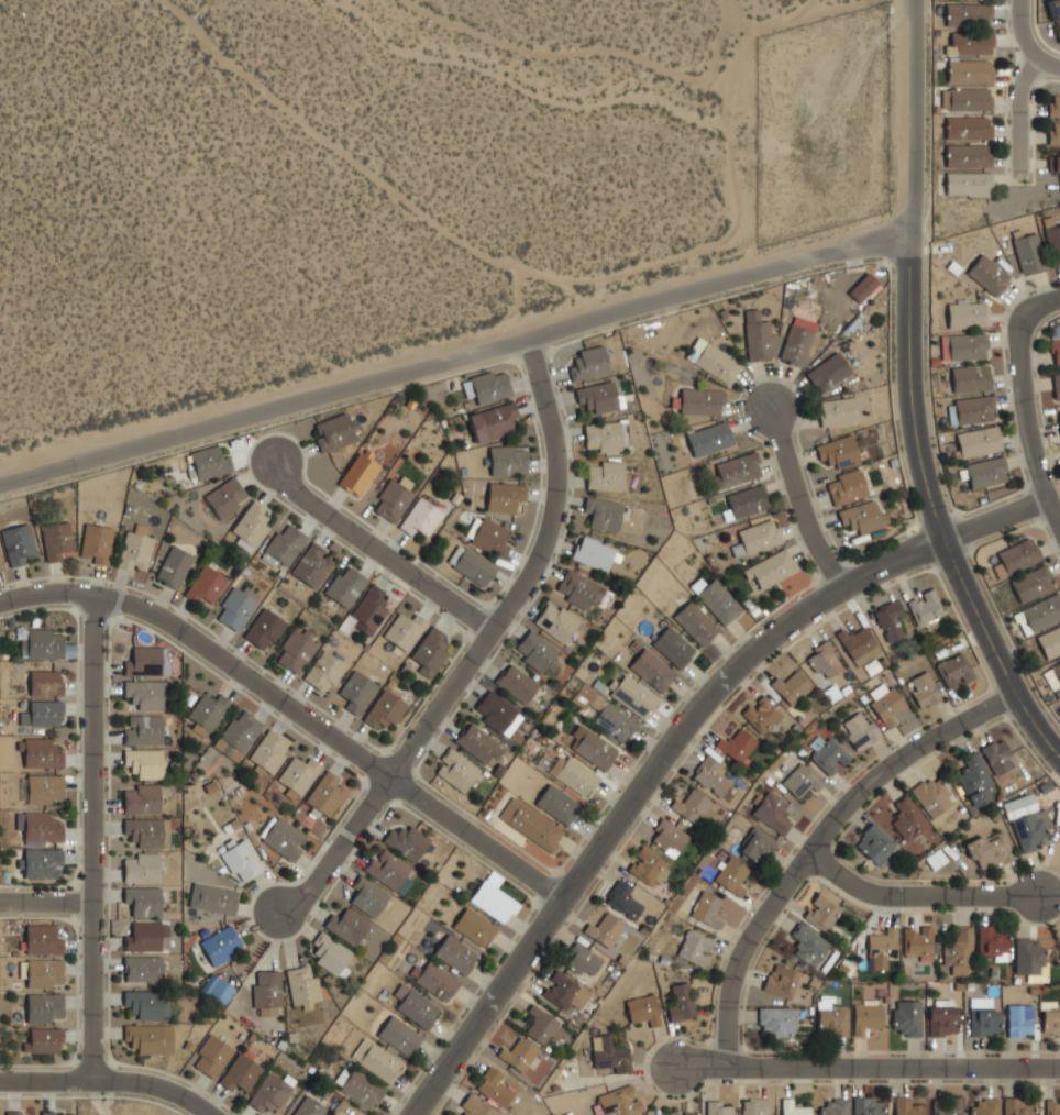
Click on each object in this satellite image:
building: (1056, 12)
building: (968, 15)
road: (1029, 33)
building: (970, 43)
road: (1051, 67)
building: (970, 73)
building: (970, 100)
building: (1053, 106)
road: (910, 115)
road: (1023, 118)
building: (968, 129)
building: (1053, 133)
building: (968, 156)
building: (1056, 159)
building: (968, 184)
building: (1053, 243)
building: (1029, 253)
building: (989, 274)
building: (864, 288)
road: (1038, 301)
building: (967, 313)
building: (758, 335)
building: (797, 340)
building: (964, 346)
road: (454, 347)
building: (1056, 351)
building: (718, 362)
building: (588, 363)
building: (829, 372)
building: (971, 378)
building: (489, 385)
building: (1056, 385)
building: (597, 396)
building: (702, 400)
building: (972, 409)
building: (838, 410)
building: (1059, 417)
road: (1030, 418)
building: (494, 421)
building: (336, 430)
building: (607, 435)
building: (709, 438)
building: (978, 441)
building: (838, 451)
building: (509, 459)
building: (210, 462)
building: (738, 468)
building: (360, 472)
building: (985, 472)
building: (605, 475)
building: (846, 486)
building: (225, 497)
building: (507, 497)
building: (394, 499)
building: (747, 501)
road: (803, 505)
road: (929, 508)
building: (604, 512)
building: (862, 516)
building: (421, 517)
building: (252, 525)
building: (492, 537)
building: (758, 537)
building: (57, 539)
building: (96, 543)
building: (20, 544)
building: (285, 545)
road: (382, 545)
building: (136, 549)
building: (594, 553)
building: (1017, 555)
building: (1, 565)
building: (313, 565)
building: (472, 565)
building: (174, 566)
building: (771, 568)
building: (1033, 583)
building: (207, 585)
building: (346, 586)
building: (579, 588)
building: (717, 598)
building: (236, 607)
building: (926, 608)
building: (371, 610)
building: (1039, 614)
building: (556, 620)
building: (891, 620)
building: (696, 621)
building: (265, 630)
building: (406, 630)
road: (479, 640)
building: (1050, 642)
building: (45, 643)
building: (859, 643)
building: (674, 645)
building: (297, 650)
building: (430, 651)
building: (538, 651)
building: (824, 660)
building: (144, 661)
building: (873, 666)
building: (653, 670)
building: (954, 670)
building: (325, 672)
building: (1055, 674)
building: (46, 682)
building: (517, 684)
building: (792, 686)
building: (923, 688)
building: (357, 689)
building: (147, 694)
building: (633, 695)
building: (887, 706)
road: (295, 707)
building: (386, 708)
building: (43, 711)
building: (209, 711)
building: (496, 713)
building: (761, 713)
building: (606, 714)
building: (143, 728)
building: (860, 729)
building: (241, 731)
road: (672, 739)
building: (478, 744)
building: (738, 746)
building: (593, 747)
building: (270, 751)
building: (41, 752)
building: (998, 754)
building: (830, 755)
building: (144, 762)
building: (456, 769)
building: (574, 774)
building: (713, 774)
building: (299, 775)
building: (974, 779)
building: (800, 780)
building: (45, 788)
building: (325, 793)
building: (932, 794)
building: (142, 797)
building: (557, 803)
building: (692, 805)
building: (773, 812)
building: (908, 817)
building: (1026, 821)
building: (531, 824)
building: (41, 827)
building: (148, 830)
building: (669, 836)
building: (284, 837)
road: (93, 838)
building: (408, 841)
road: (809, 842)
building: (874, 842)
building: (754, 846)
building: (990, 849)
building: (936, 858)
building: (241, 859)
building: (43, 863)
building: (649, 865)
building: (142, 866)
building: (390, 870)
building: (731, 876)
building: (369, 896)
building: (213, 897)
road: (910, 898)
building: (144, 899)
building: (626, 899)
building: (495, 901)
road: (46, 902)
building: (707, 908)
building: (821, 912)
building: (346, 926)
building: (475, 926)
building: (605, 929)
building: (147, 936)
building: (42, 939)
building: (920, 940)
building: (993, 941)
building: (807, 943)
building: (222, 945)
building: (695, 947)
building: (883, 947)
building: (959, 951)
building: (331, 953)
building: (456, 953)
building: (1030, 958)
building: (583, 960)
building: (143, 967)
building: (44, 973)
building: (780, 979)
building: (435, 980)
building: (302, 985)
building: (268, 987)
building: (217, 989)
building: (560, 990)
building: (682, 1001)
building: (146, 1003)
building: (417, 1006)
building: (45, 1007)
building: (643, 1008)
building: (865, 1015)
building: (907, 1017)
building: (942, 1017)
building: (983, 1018)
building: (1020, 1019)
building: (831, 1020)
building: (776, 1022)
building: (1051, 1022)
building: (541, 1028)
building: (399, 1035)
building: (150, 1038)
building: (44, 1040)
building: (610, 1052)
building: (521, 1053)
building: (212, 1055)
building: (377, 1059)
building: (241, 1070)
road: (862, 1073)
road: (108, 1082)
building: (495, 1085)
building: (361, 1086)
building: (272, 1090)
building: (621, 1101)
building: (868, 1105)
building: (907, 1105)
building: (1018, 1105)
building: (1052, 1105)
building: (310, 1106)
building: (755, 1106)
building: (792, 1106)
building: (833, 1106)
building: (948, 1106)
building: (984, 1106)
building: (481, 1107)
building: (719, 1107)
building: (15, 1112)
building: (53, 1112)
building: (688, 1113)
building: (338, 1114)

